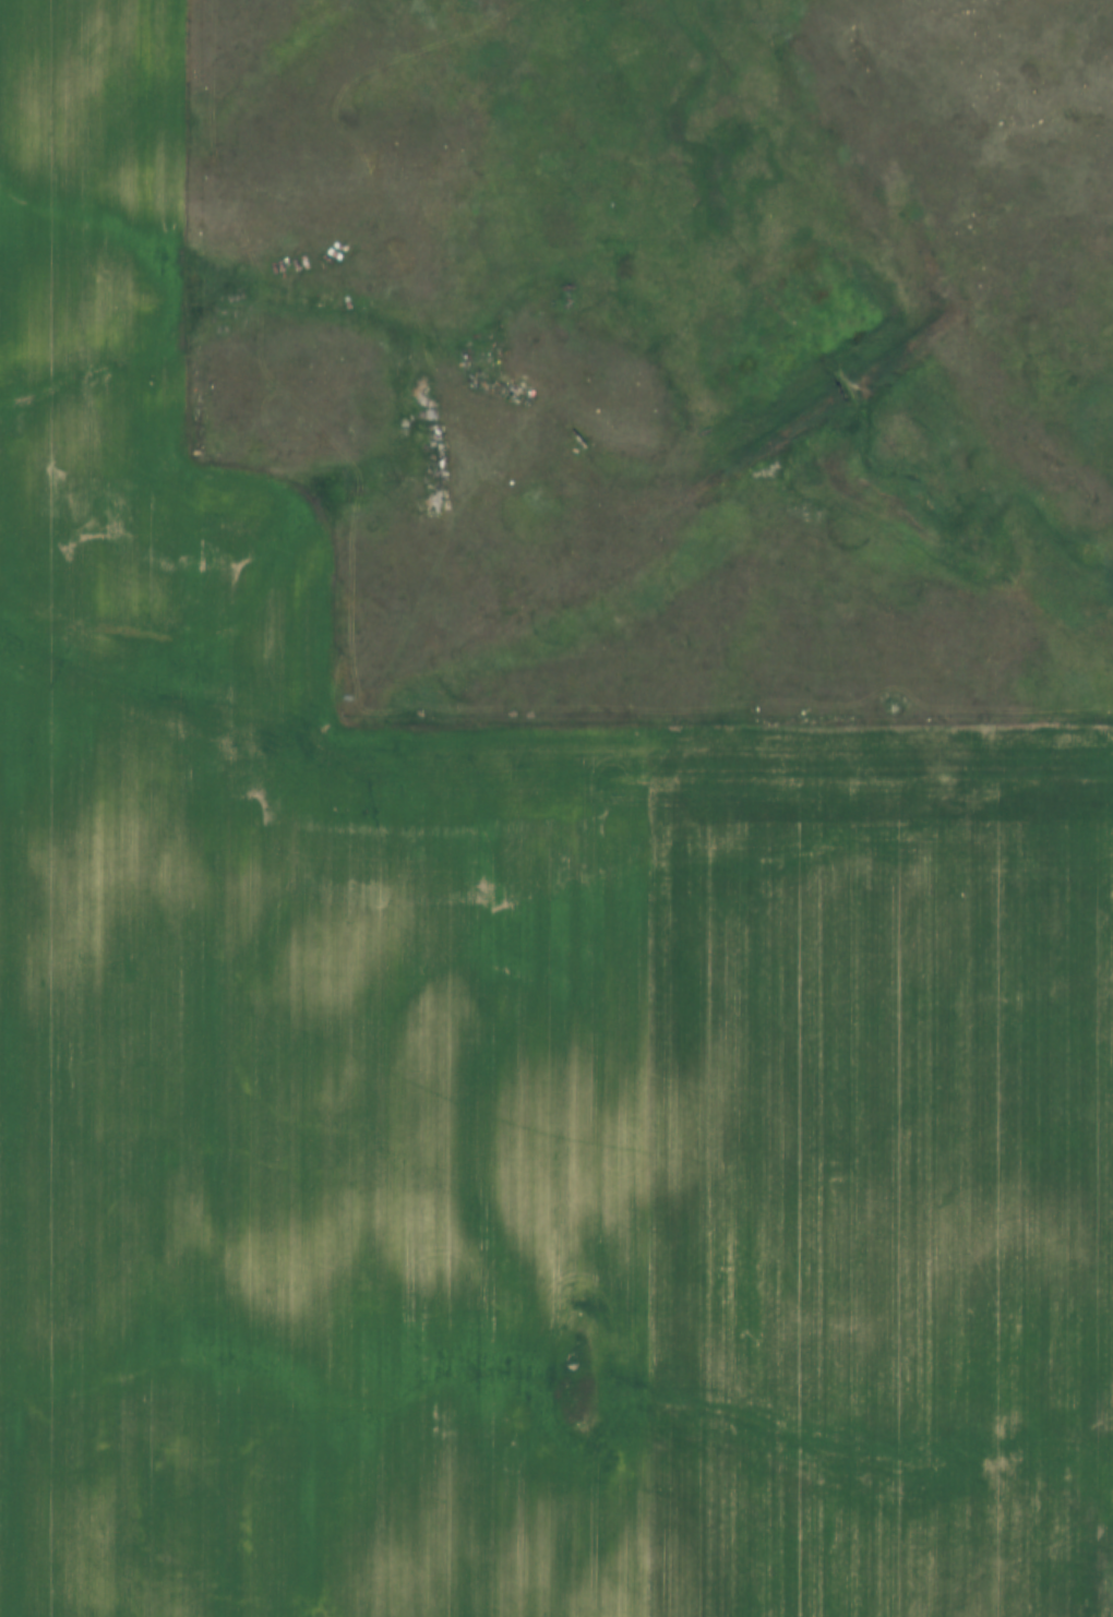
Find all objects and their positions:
road: (538, 755)

